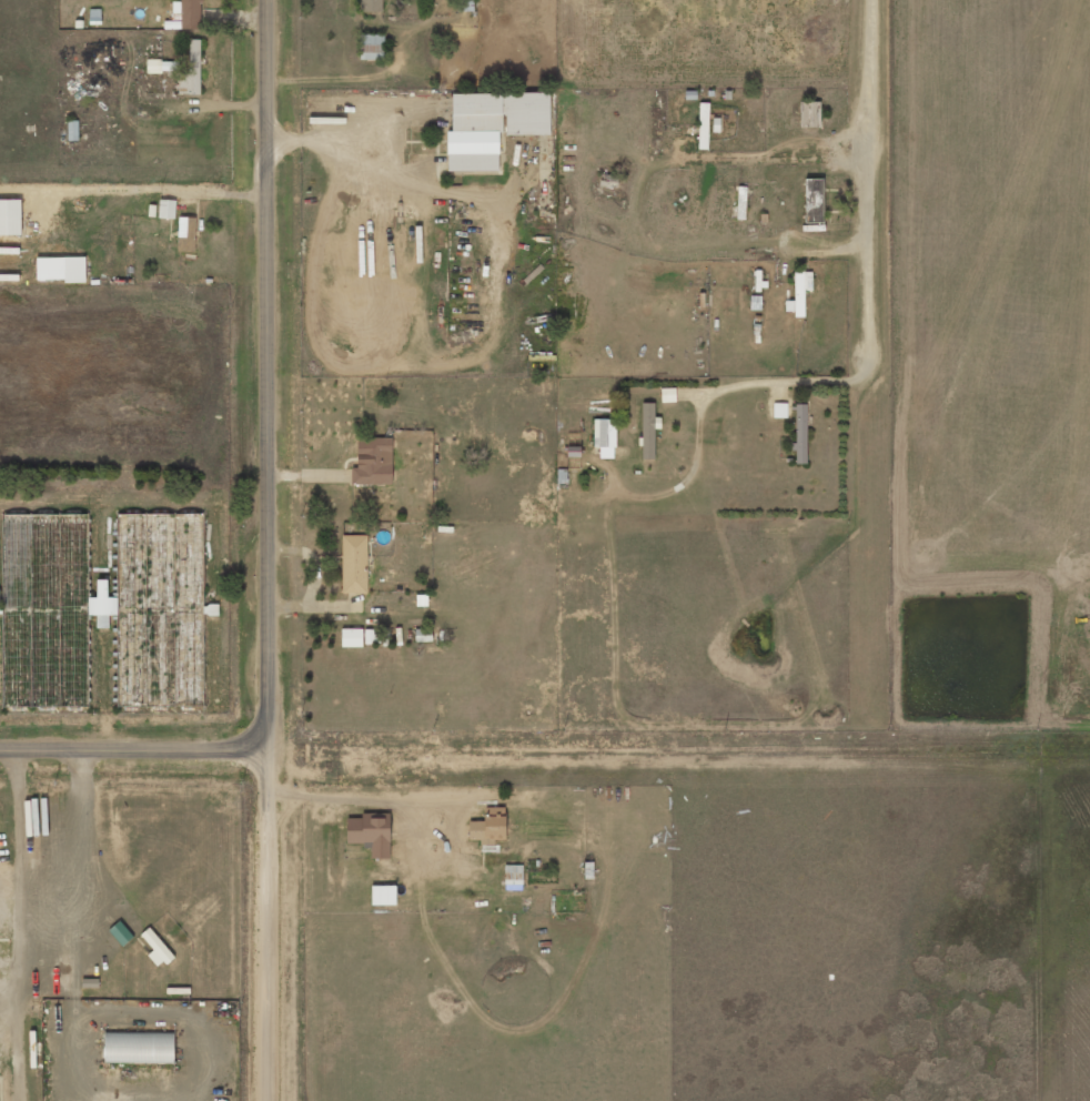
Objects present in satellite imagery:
building: (371, 6)
building: (464, 6)
building: (188, 12)
building: (372, 47)
building: (158, 63)
building: (191, 71)
building: (809, 114)
building: (491, 127)
building: (72, 130)
building: (813, 200)
building: (166, 209)
building: (10, 216)
building: (185, 233)
building: (60, 269)
building: (799, 292)
road: (870, 358)
building: (779, 410)
building: (648, 431)
building: (800, 433)
building: (604, 437)
building: (372, 461)
road: (271, 550)
building: (157, 558)
building: (353, 563)
building: (351, 637)
road: (544, 743)
building: (488, 825)
building: (371, 832)
building: (513, 885)
building: (383, 895)
building: (157, 948)
building: (138, 1048)

